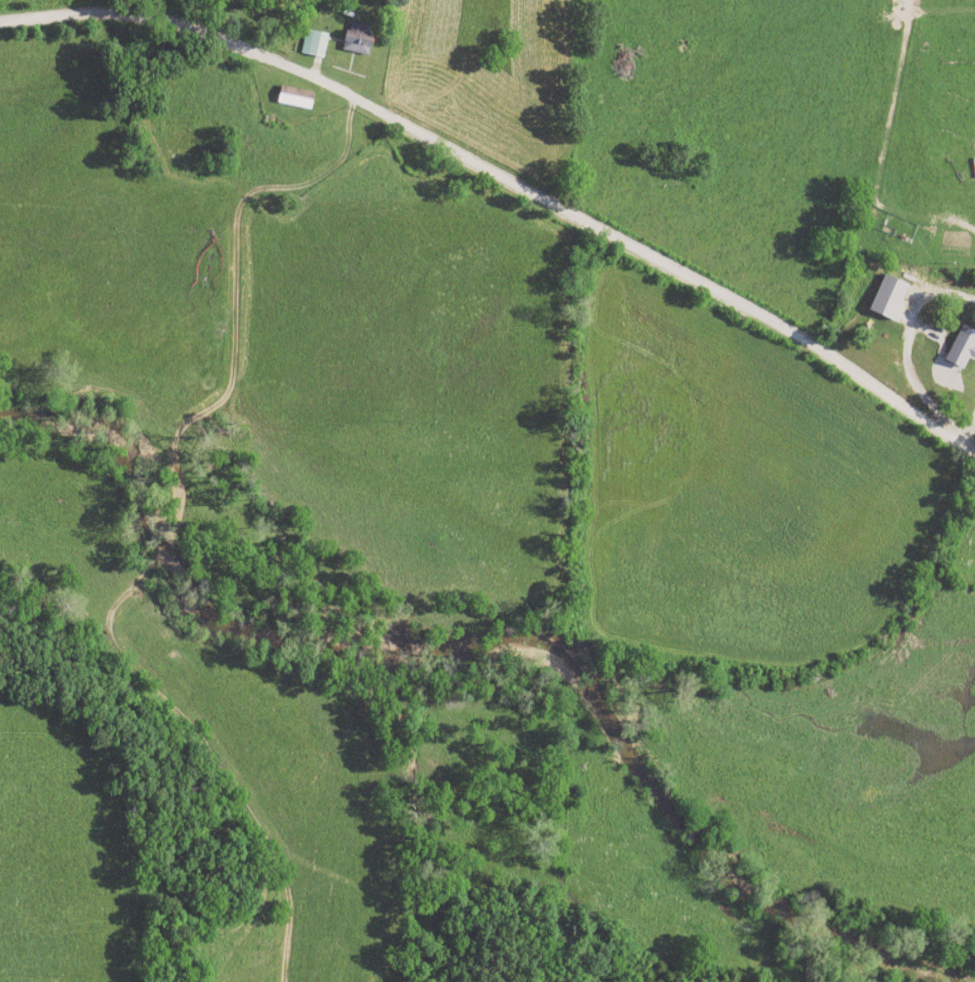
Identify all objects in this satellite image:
building: (356, 42)
building: (314, 45)
building: (294, 98)
road: (508, 178)
building: (886, 297)
building: (961, 347)
road: (906, 351)
road: (971, 428)
road: (964, 441)

